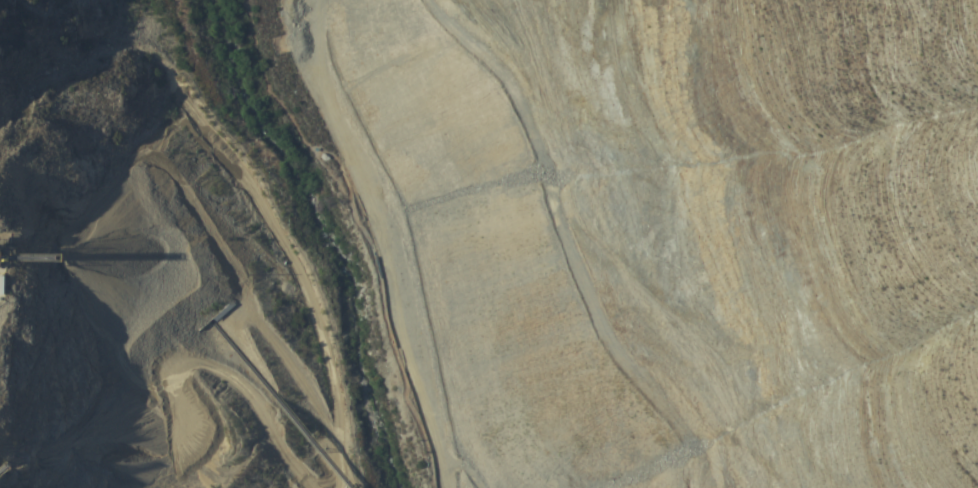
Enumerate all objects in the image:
road: (355, 234)
quarry: (489, 244)
road: (383, 252)
road: (476, 455)

